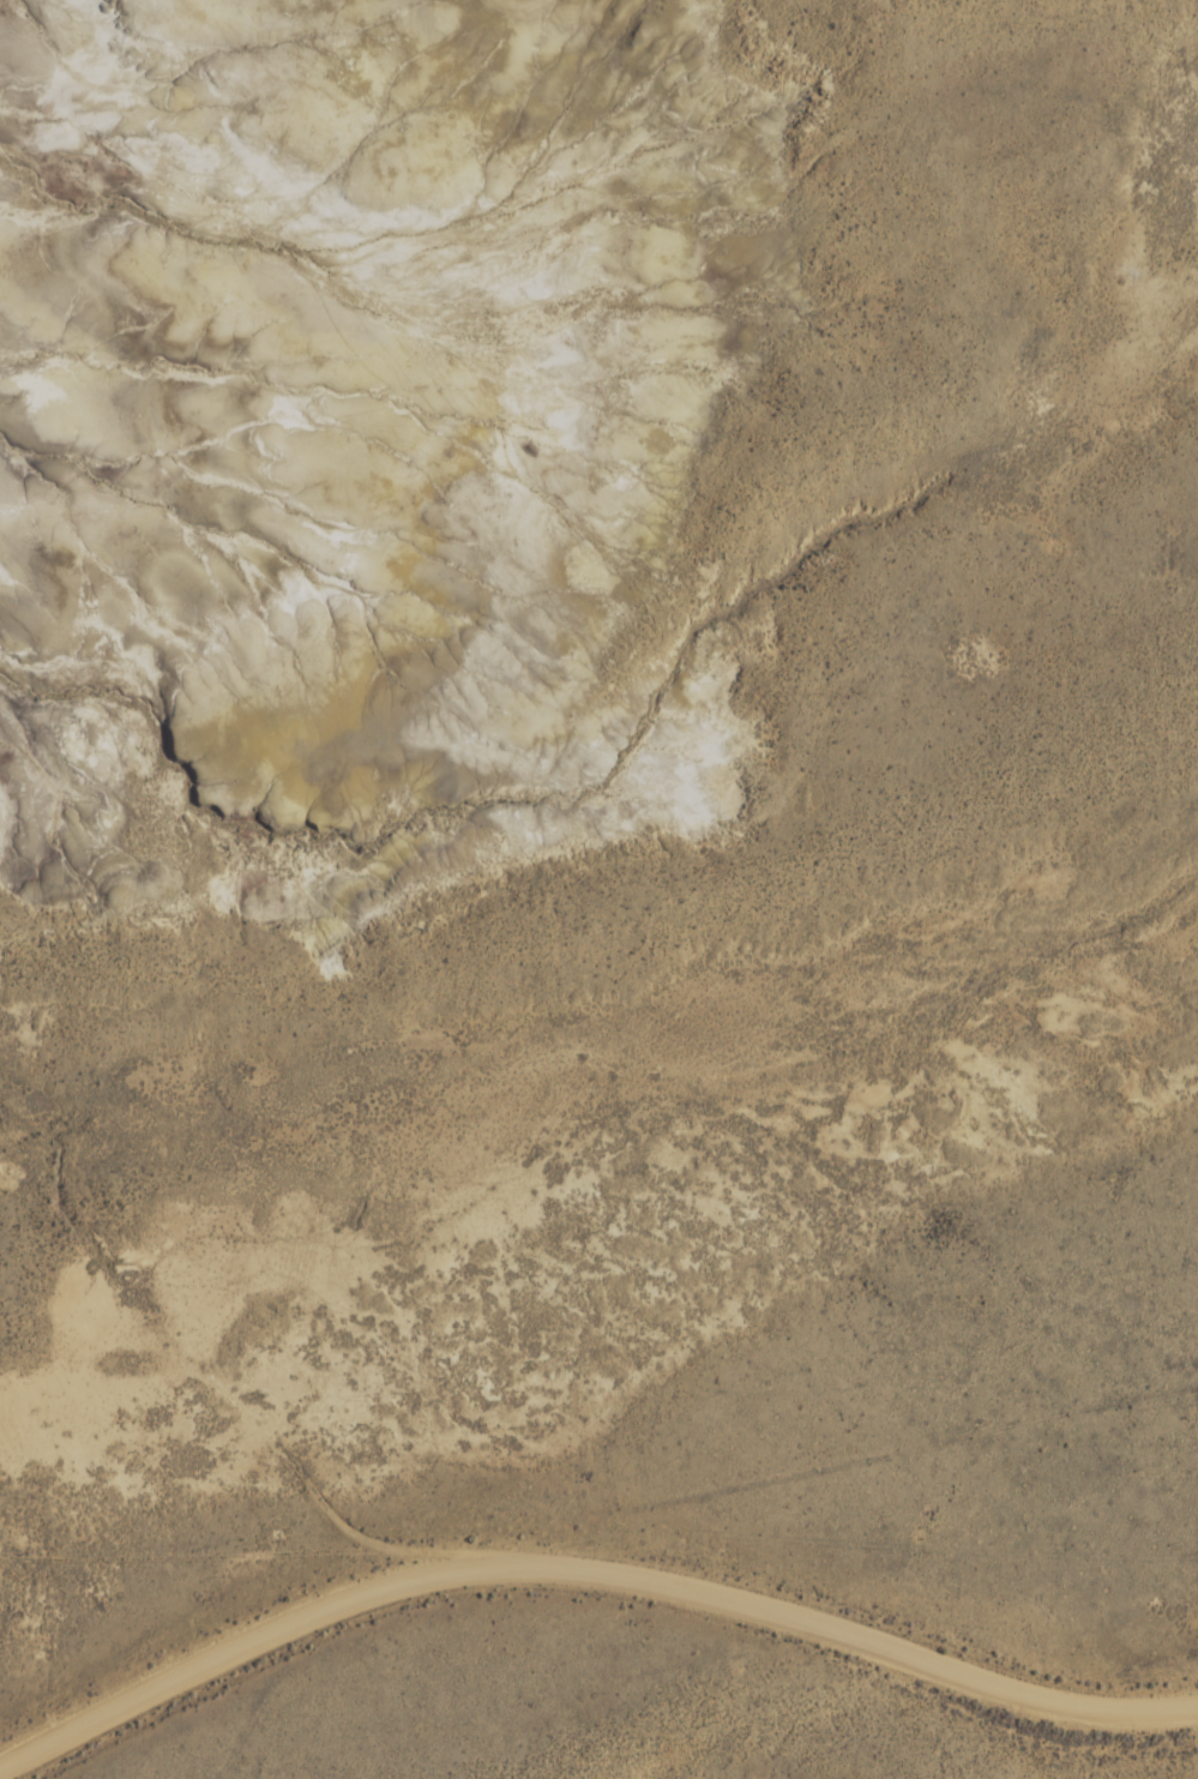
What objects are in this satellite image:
road: (266, 1556)
road: (585, 1570)

